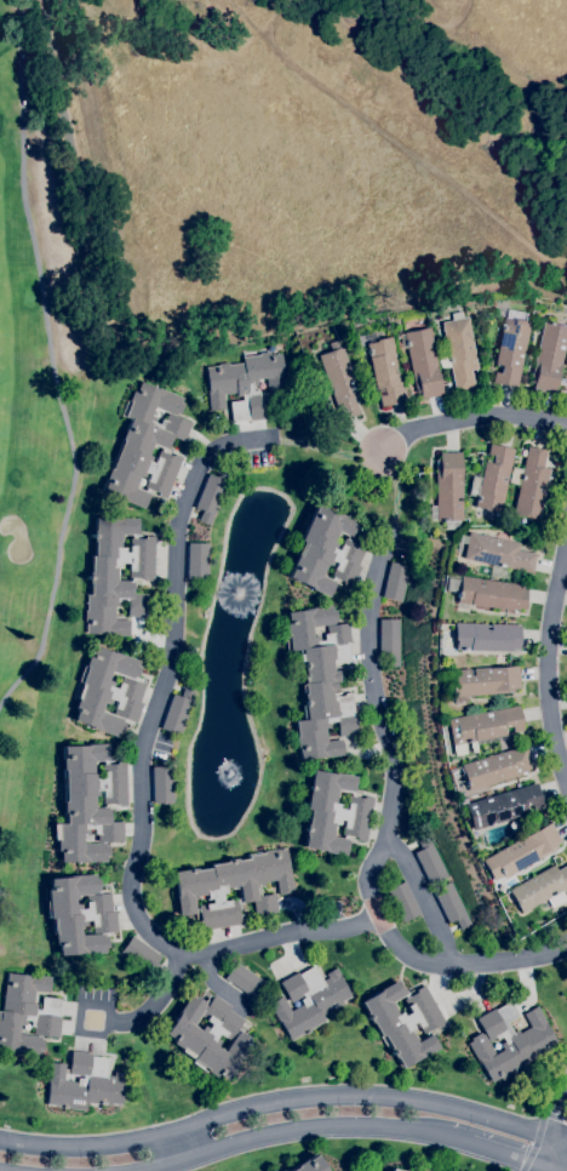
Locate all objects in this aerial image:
building: (459, 352)
building: (511, 352)
building: (549, 356)
building: (423, 359)
building: (385, 371)
building: (338, 379)
building: (246, 385)
park: (45, 411)
road: (479, 419)
building: (147, 446)
building: (492, 480)
building: (529, 482)
building: (448, 489)
building: (208, 497)
building: (326, 552)
building: (497, 552)
building: (196, 560)
building: (101, 577)
building: (395, 581)
building: (488, 593)
building: (485, 636)
building: (389, 642)
road: (556, 666)
road: (170, 680)
building: (320, 680)
building: (480, 681)
building: (108, 692)
building: (176, 710)
building: (482, 727)
building: (494, 771)
building: (161, 784)
building: (459, 796)
building: (90, 802)
building: (503, 807)
building: (333, 813)
road: (384, 830)
building: (521, 852)
building: (428, 858)
building: (540, 887)
building: (200, 890)
road: (423, 896)
building: (402, 901)
building: (451, 904)
building: (79, 914)
road: (220, 948)
building: (142, 955)
building: (245, 981)
building: (308, 1000)
building: (27, 1013)
building: (402, 1022)
building: (210, 1034)
building: (509, 1040)
building: (84, 1083)
road: (283, 1101)
road: (550, 1124)
road: (298, 1129)
road: (178, 1146)
road: (505, 1155)
road: (565, 1164)
building: (308, 1165)
building: (279, 1170)
building: (394, 1170)

